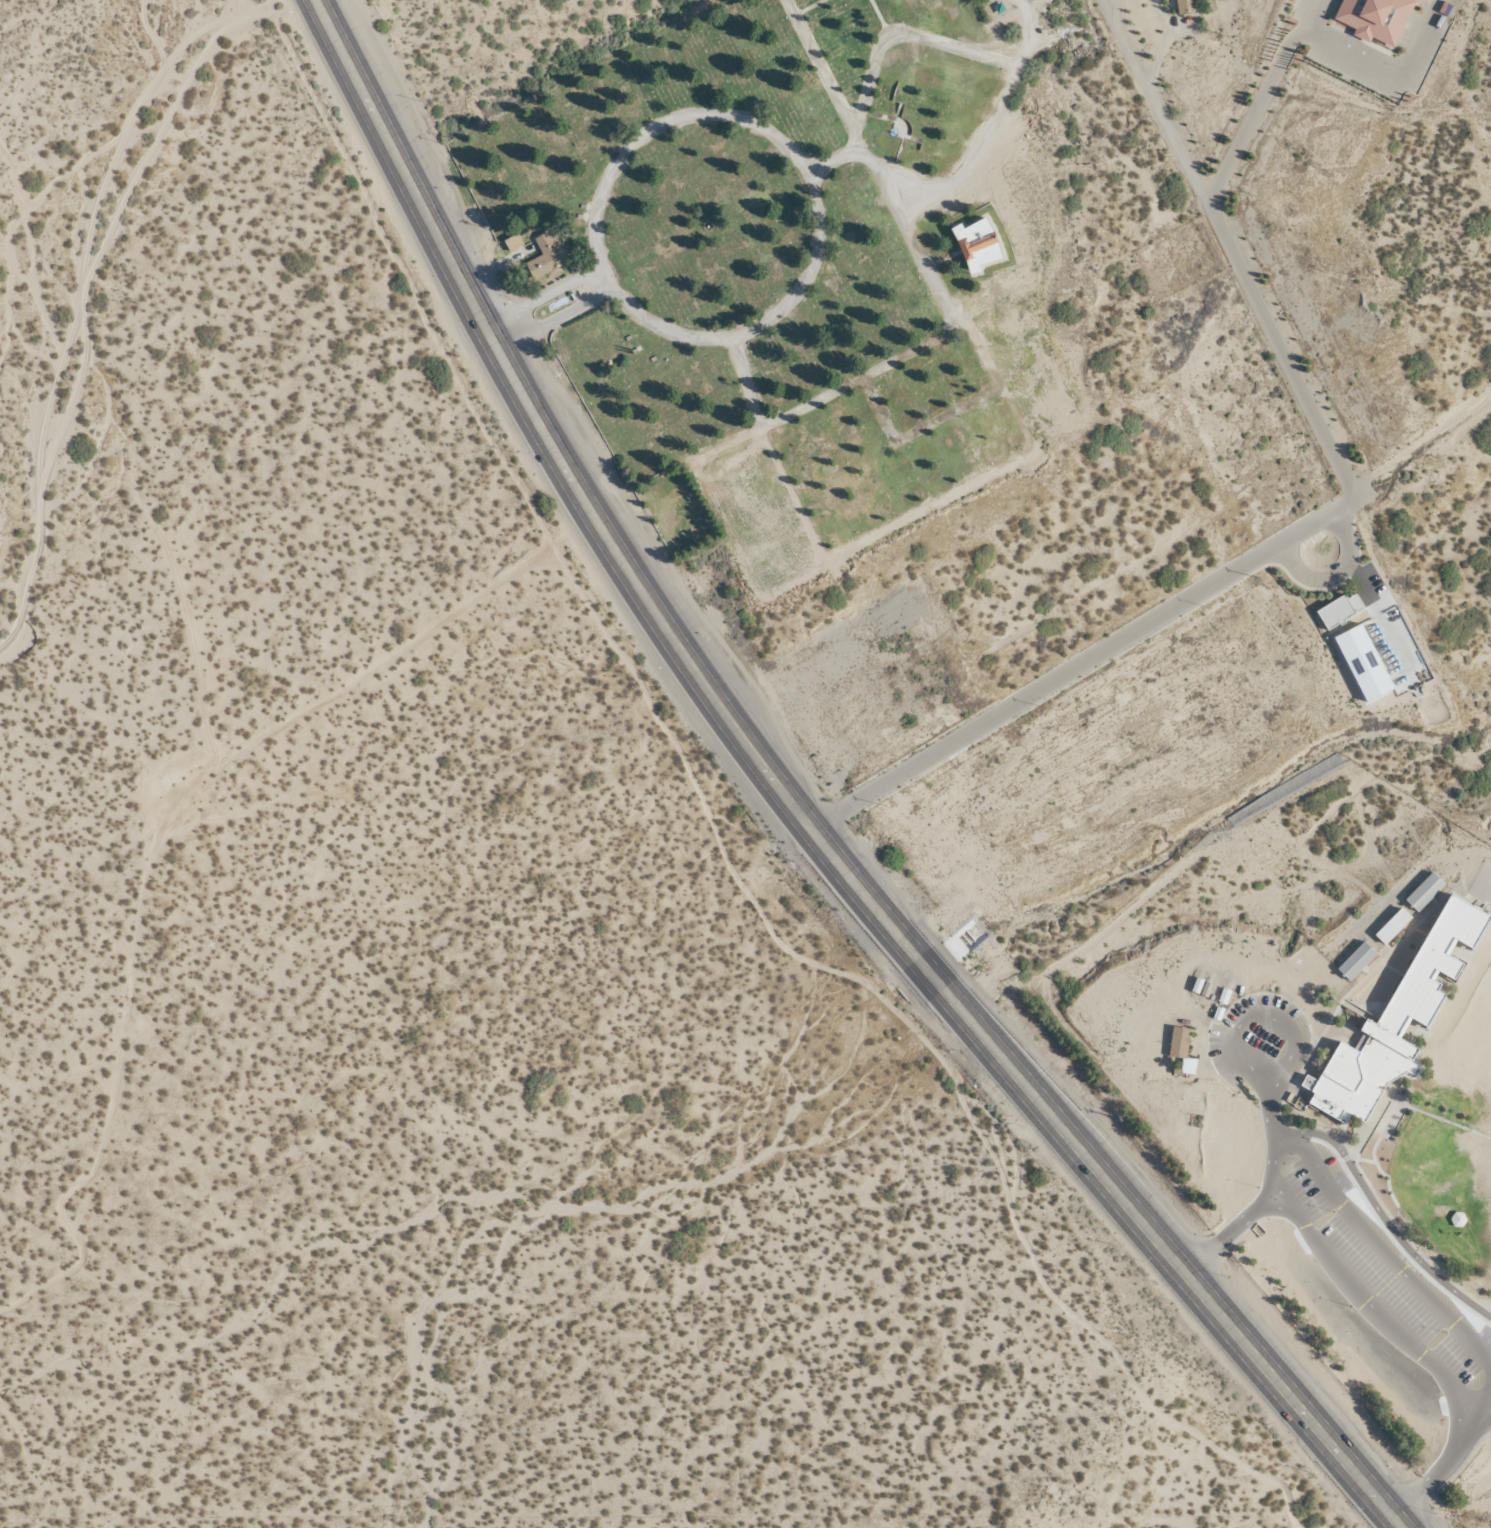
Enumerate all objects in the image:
building: (1372, 18)
road: (982, 59)
road: (1151, 108)
road: (811, 194)
building: (510, 243)
building: (974, 244)
park: (767, 255)
building: (544, 257)
road: (1233, 267)
road: (539, 294)
road: (556, 323)
road: (931, 344)
road: (1331, 572)
building: (1336, 612)
road: (1375, 619)
road: (1078, 665)
road: (794, 809)
building: (1395, 927)
building: (1359, 962)
building: (1182, 1044)
building: (1459, 1220)
road: (1383, 1308)

